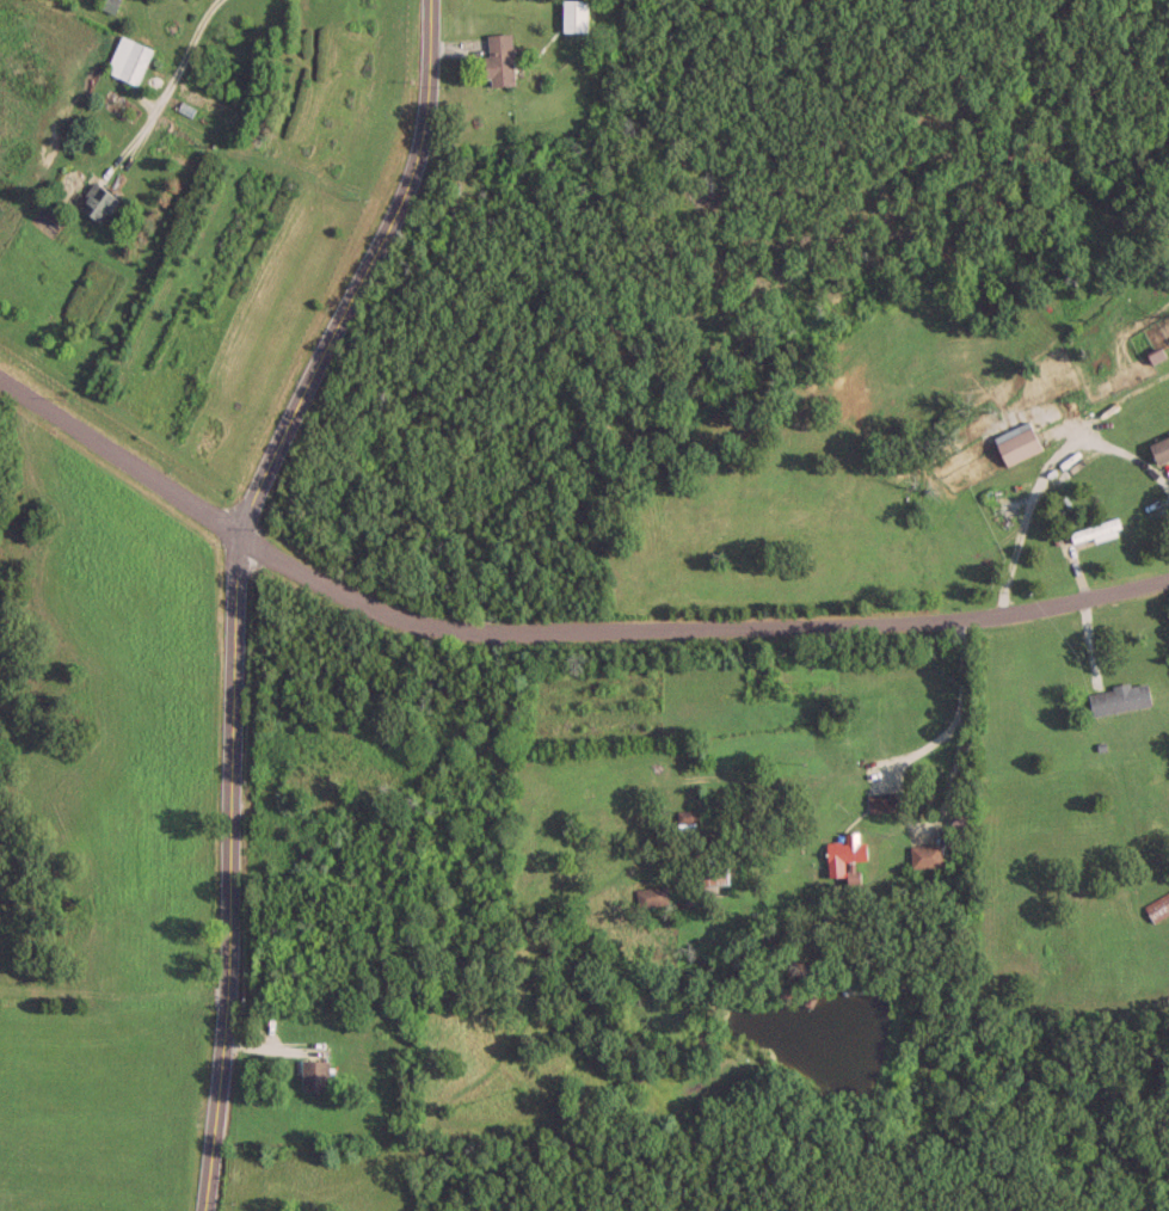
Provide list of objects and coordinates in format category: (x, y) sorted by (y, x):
building: (106, 4)
building: (572, 14)
building: (127, 57)
building: (497, 57)
road: (168, 82)
building: (96, 201)
building: (1015, 442)
building: (1159, 448)
road: (1044, 474)
building: (1094, 529)
road: (230, 584)
road: (552, 629)
building: (1118, 697)
road: (891, 770)
building: (879, 800)
building: (683, 819)
building: (844, 853)
building: (923, 853)
building: (712, 875)
building: (648, 895)
building: (1156, 903)
building: (312, 1074)

